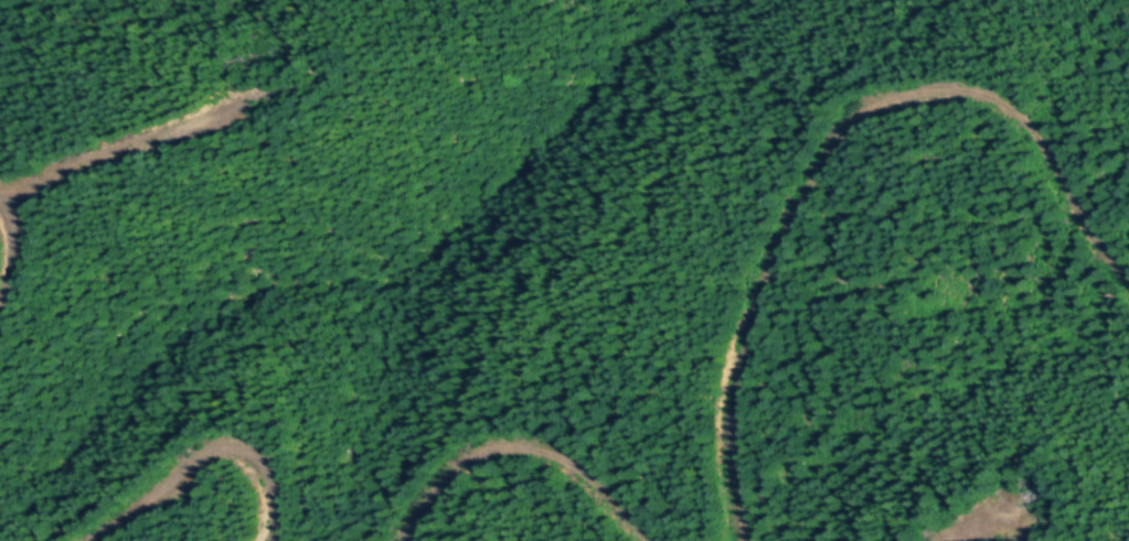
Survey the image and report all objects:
road: (11, 261)

